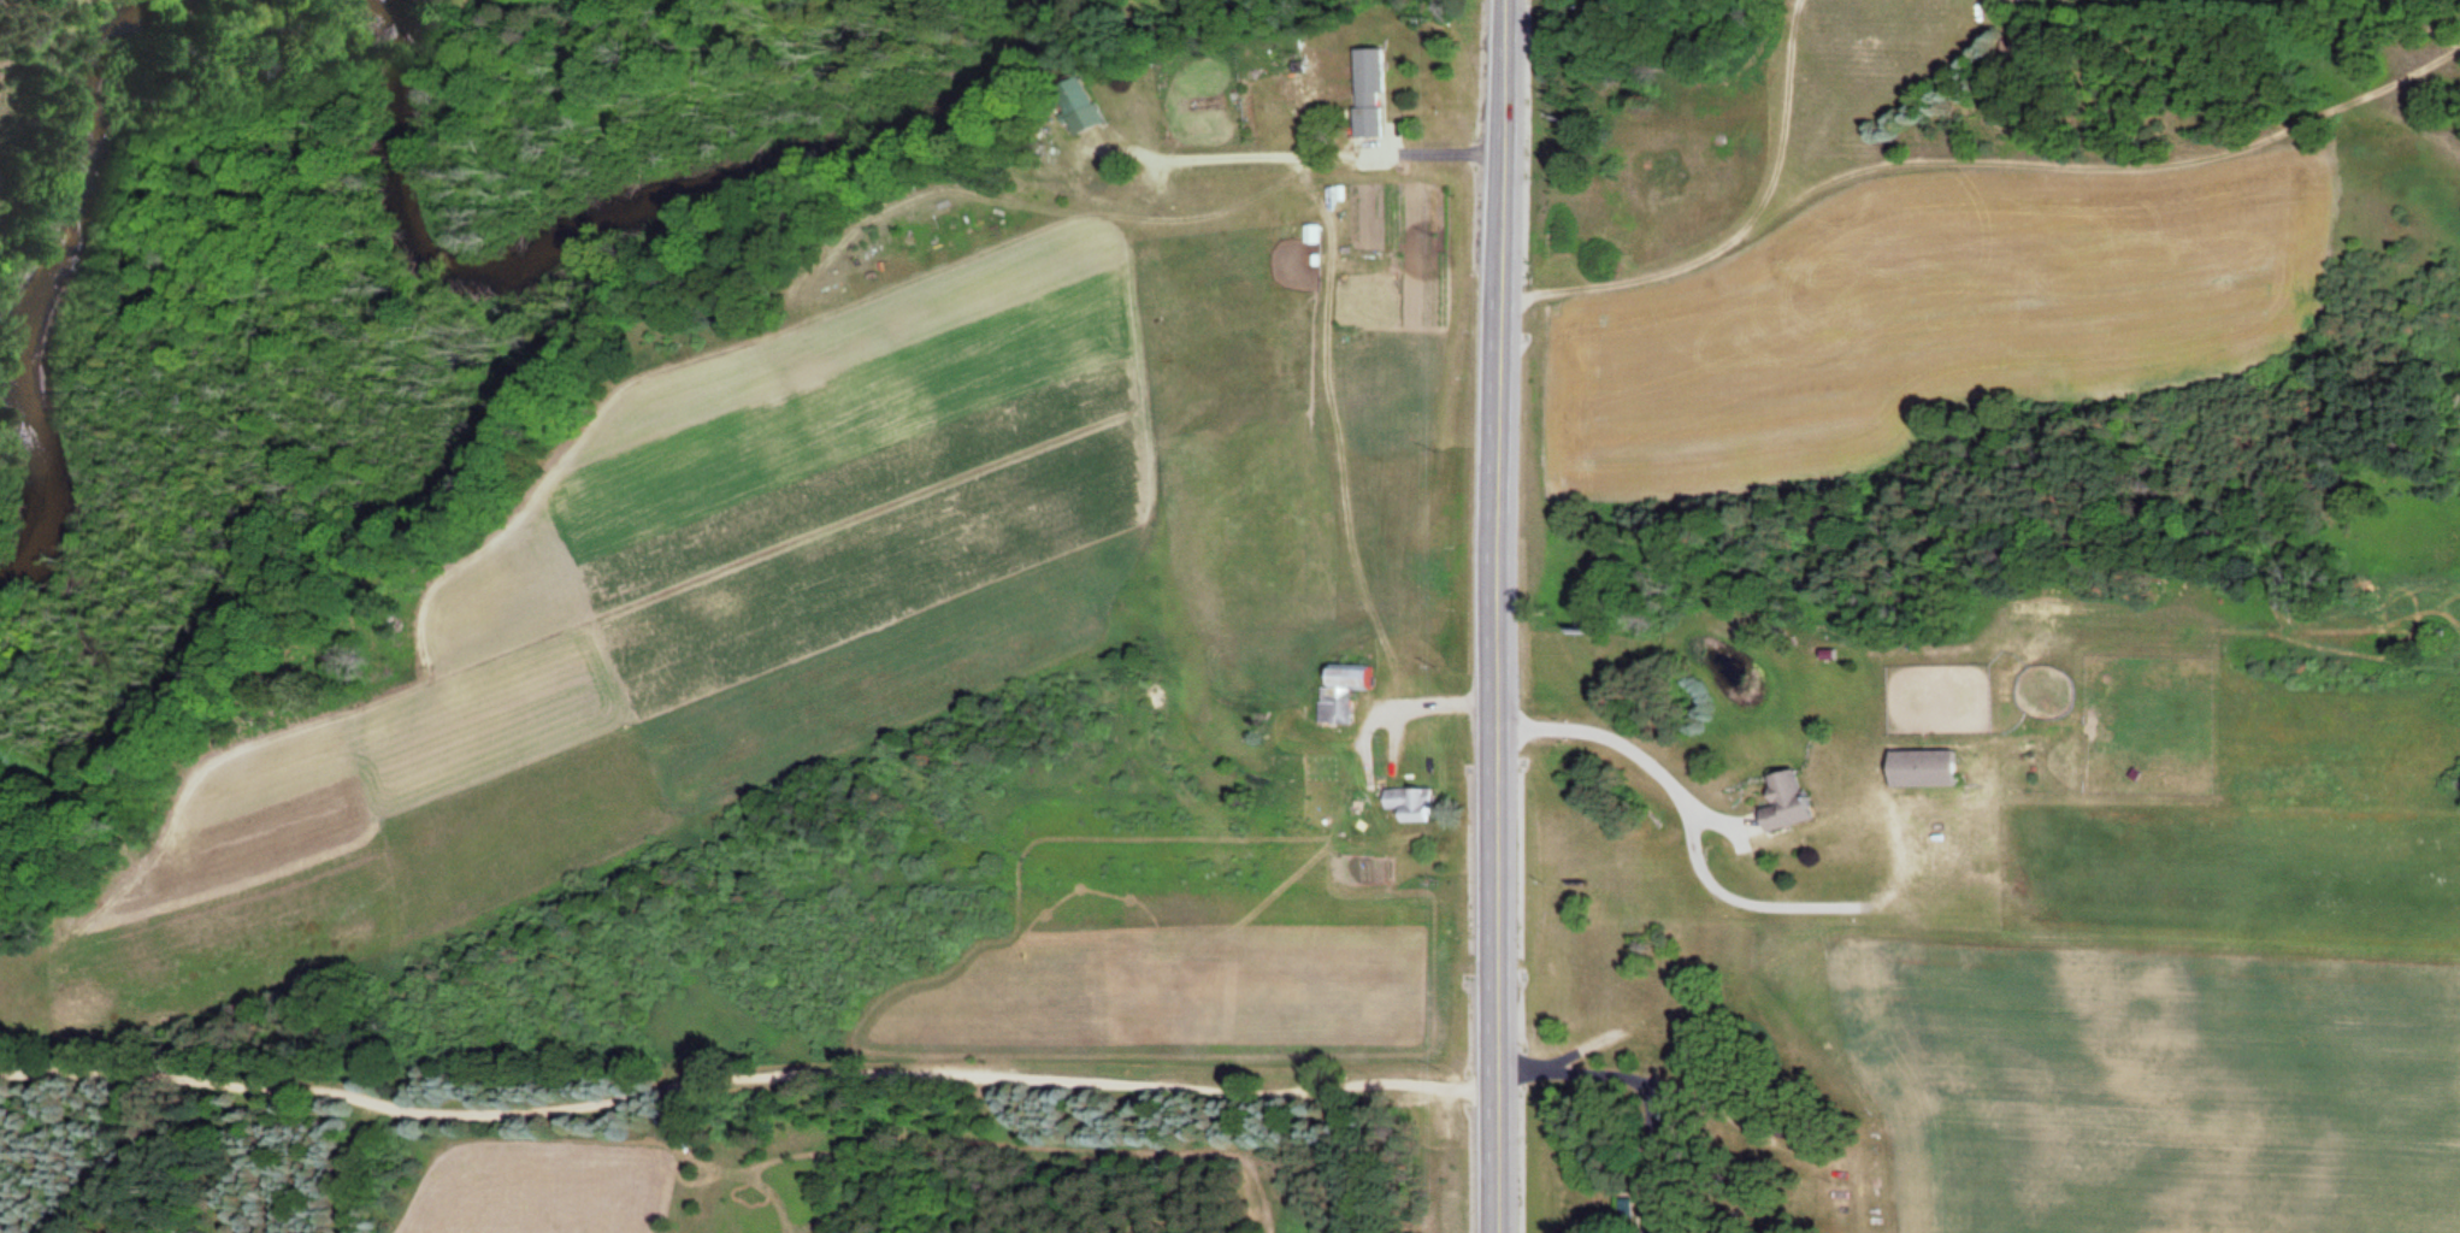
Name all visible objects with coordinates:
building: (1368, 93)
building: (1076, 105)
road: (1217, 157)
river: (620, 207)
road: (1735, 231)
river: (52, 277)
road: (1499, 616)
building: (1341, 691)
building: (1918, 768)
building: (1781, 802)
building: (1408, 803)

